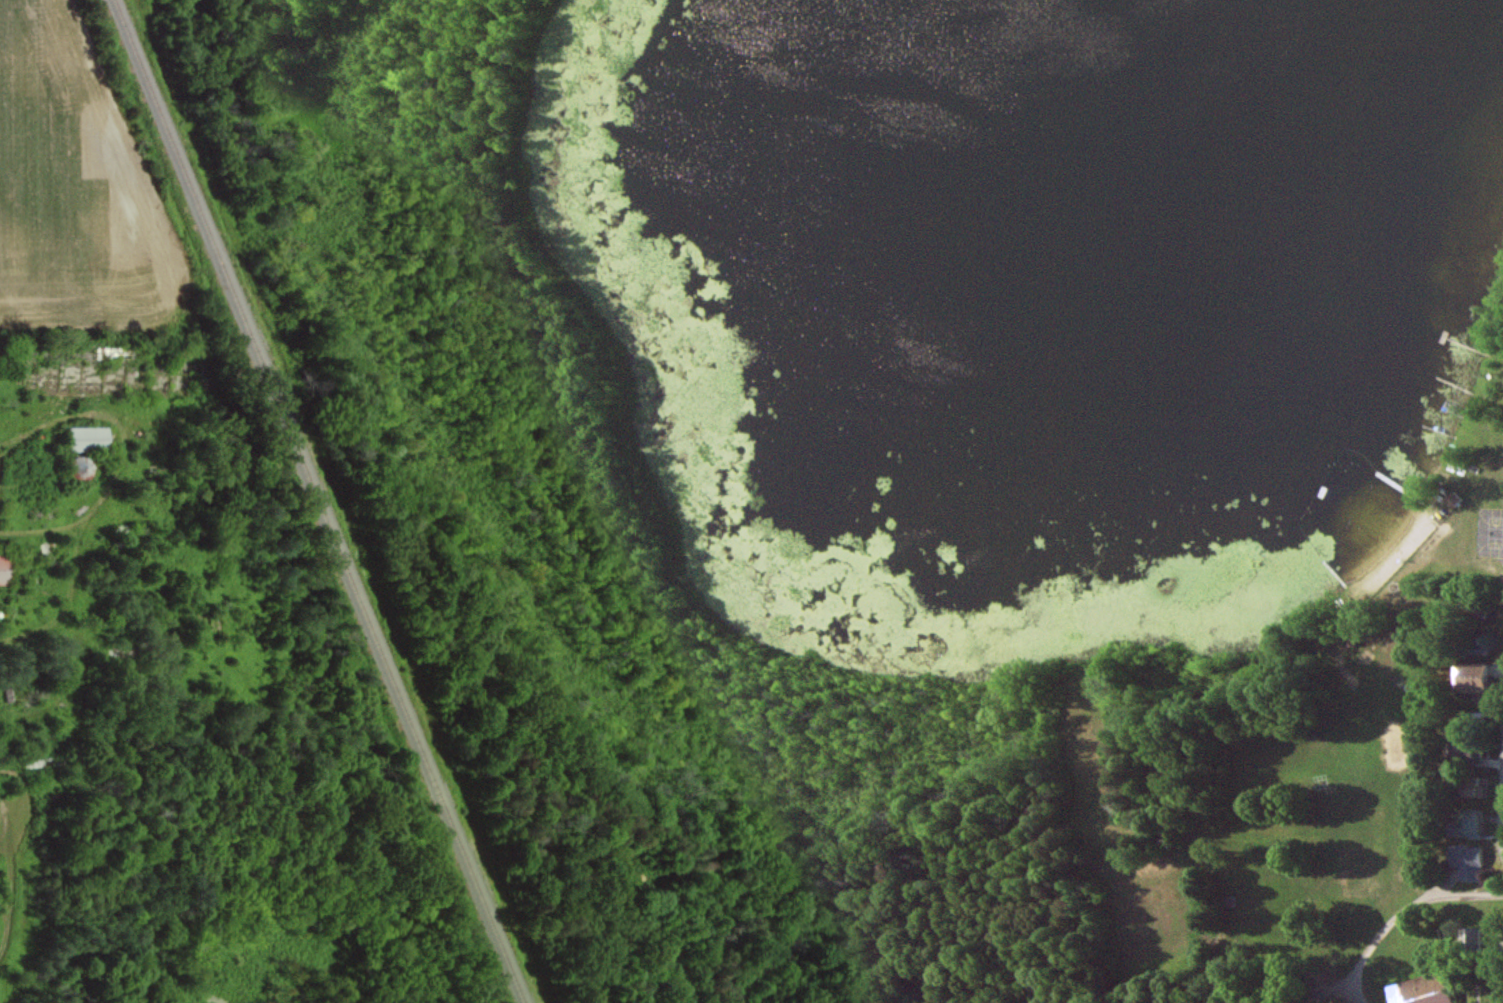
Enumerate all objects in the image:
building: (87, 437)
building: (1450, 498)
railway: (322, 501)
building: (1468, 678)
building: (1471, 787)
building: (1468, 824)
building: (1468, 860)
road: (1401, 913)
building: (1472, 936)
building: (1421, 990)

